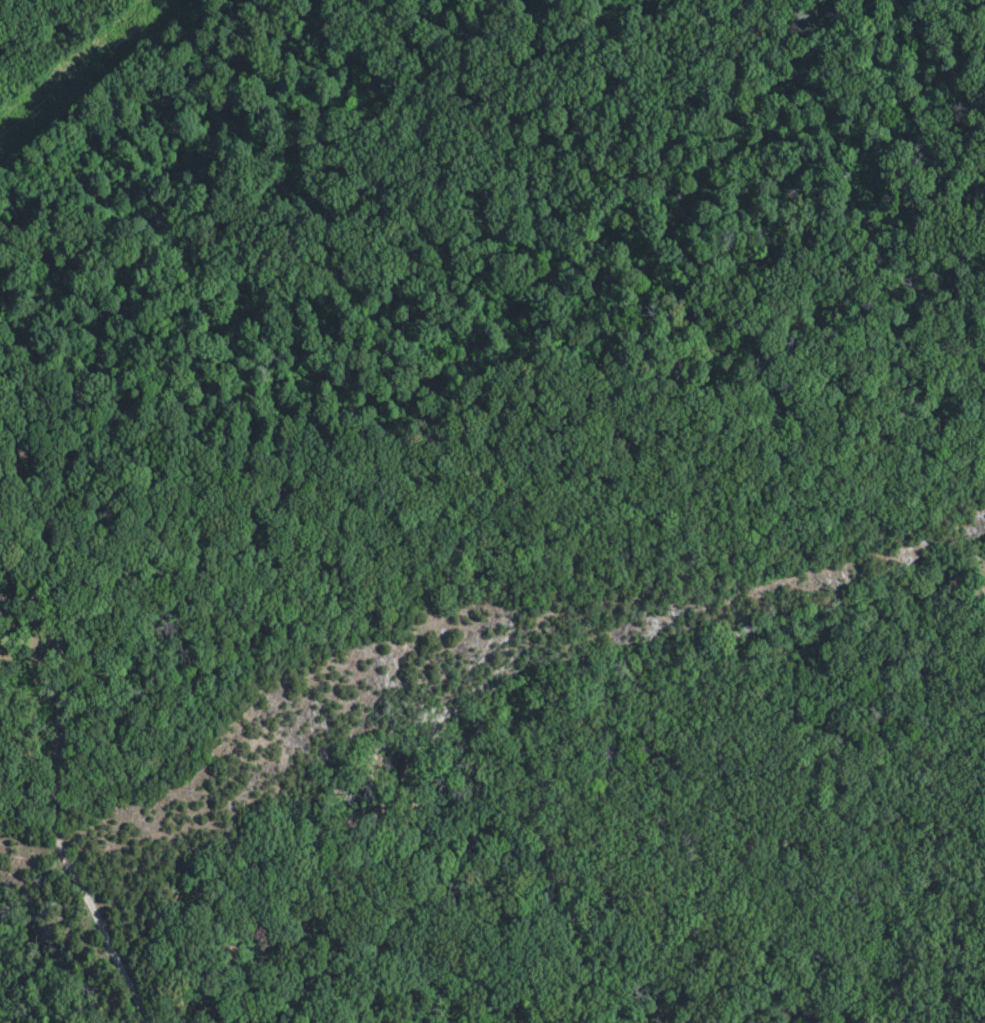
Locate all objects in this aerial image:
road: (29, 571)
road: (29, 601)
road: (53, 816)

